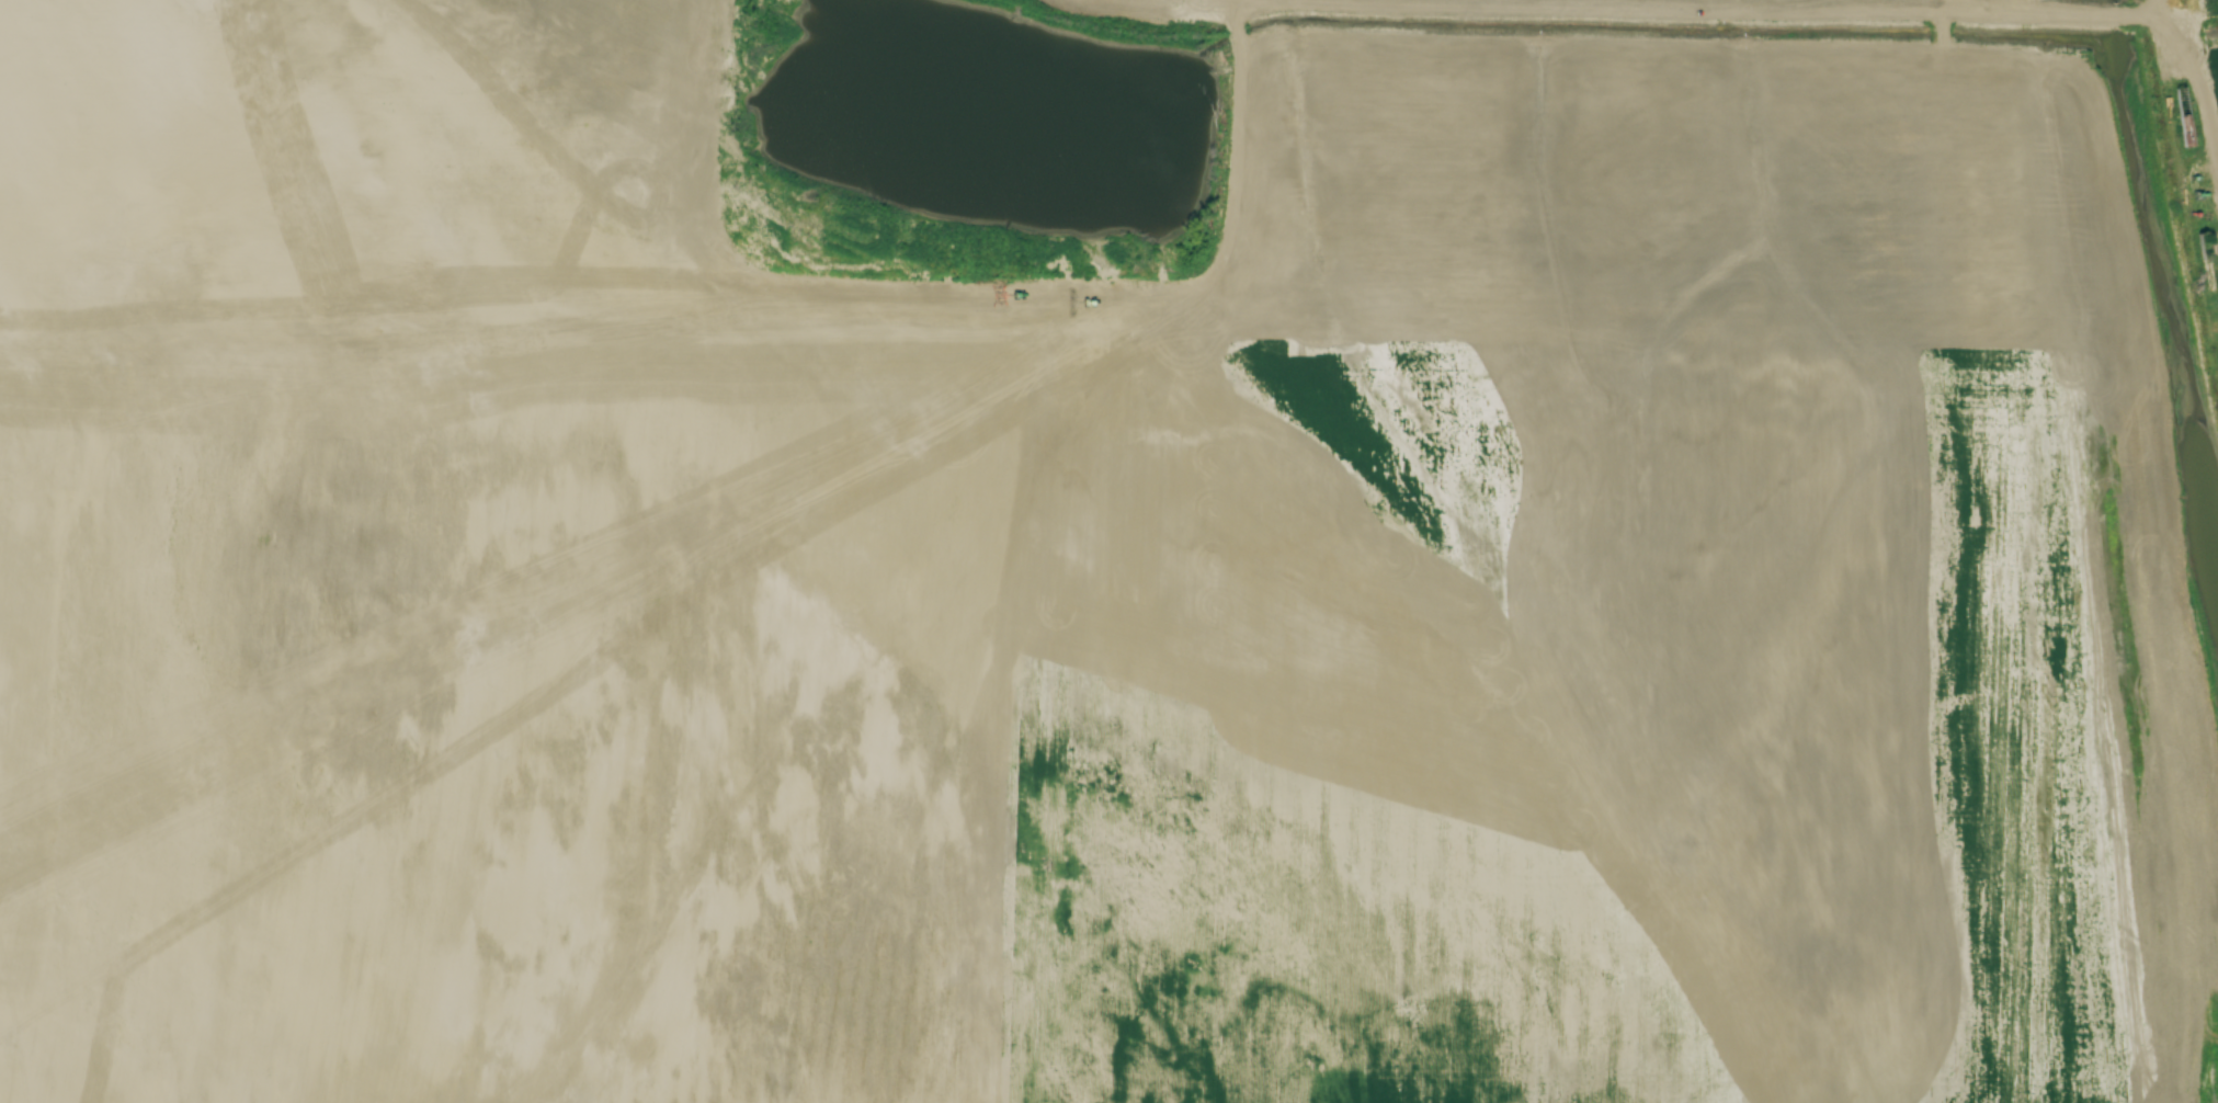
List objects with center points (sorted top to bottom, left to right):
road: (2122, 0)
road: (2138, 0)
road: (2177, 171)

